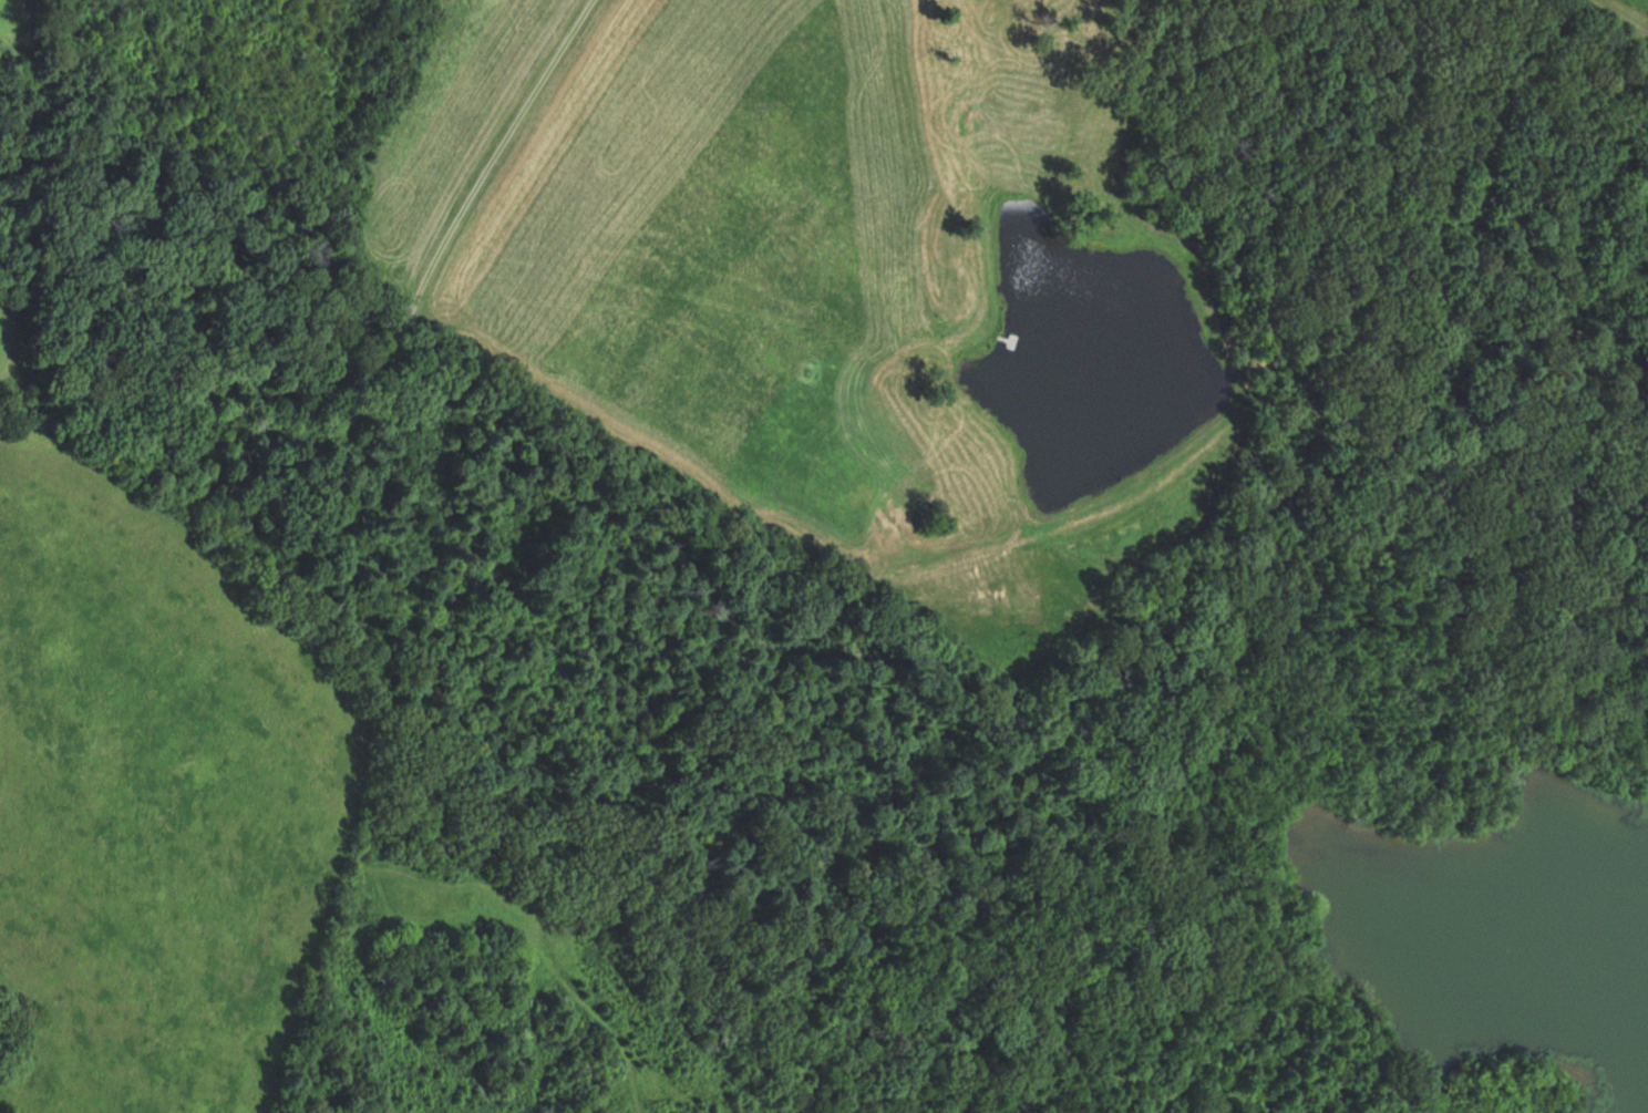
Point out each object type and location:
road: (380, 342)

